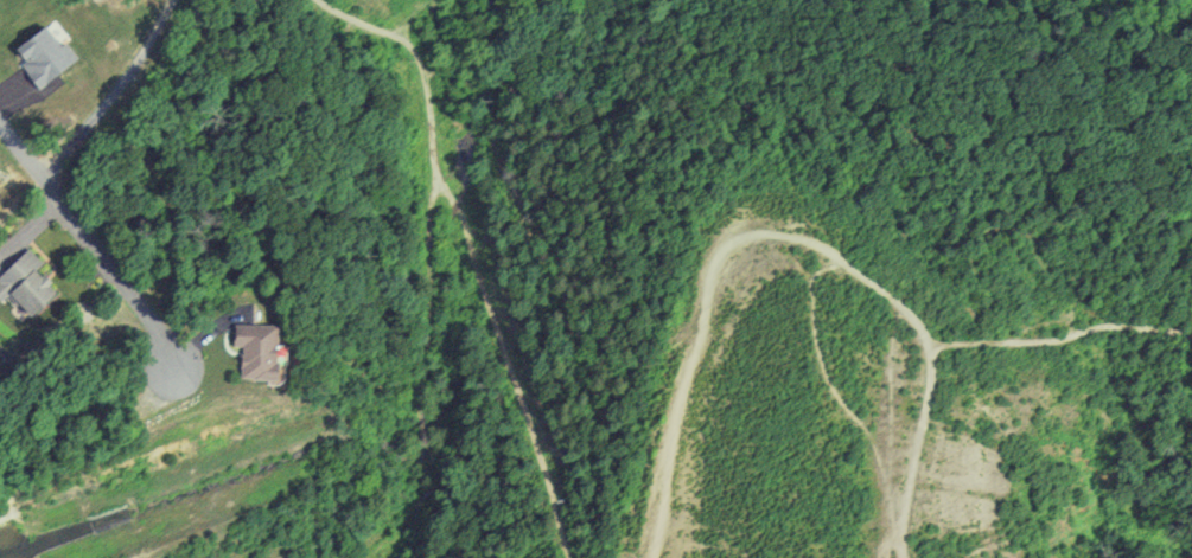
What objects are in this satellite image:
road: (793, 235)
road: (474, 242)
road: (94, 245)
building: (17, 282)
building: (244, 347)

